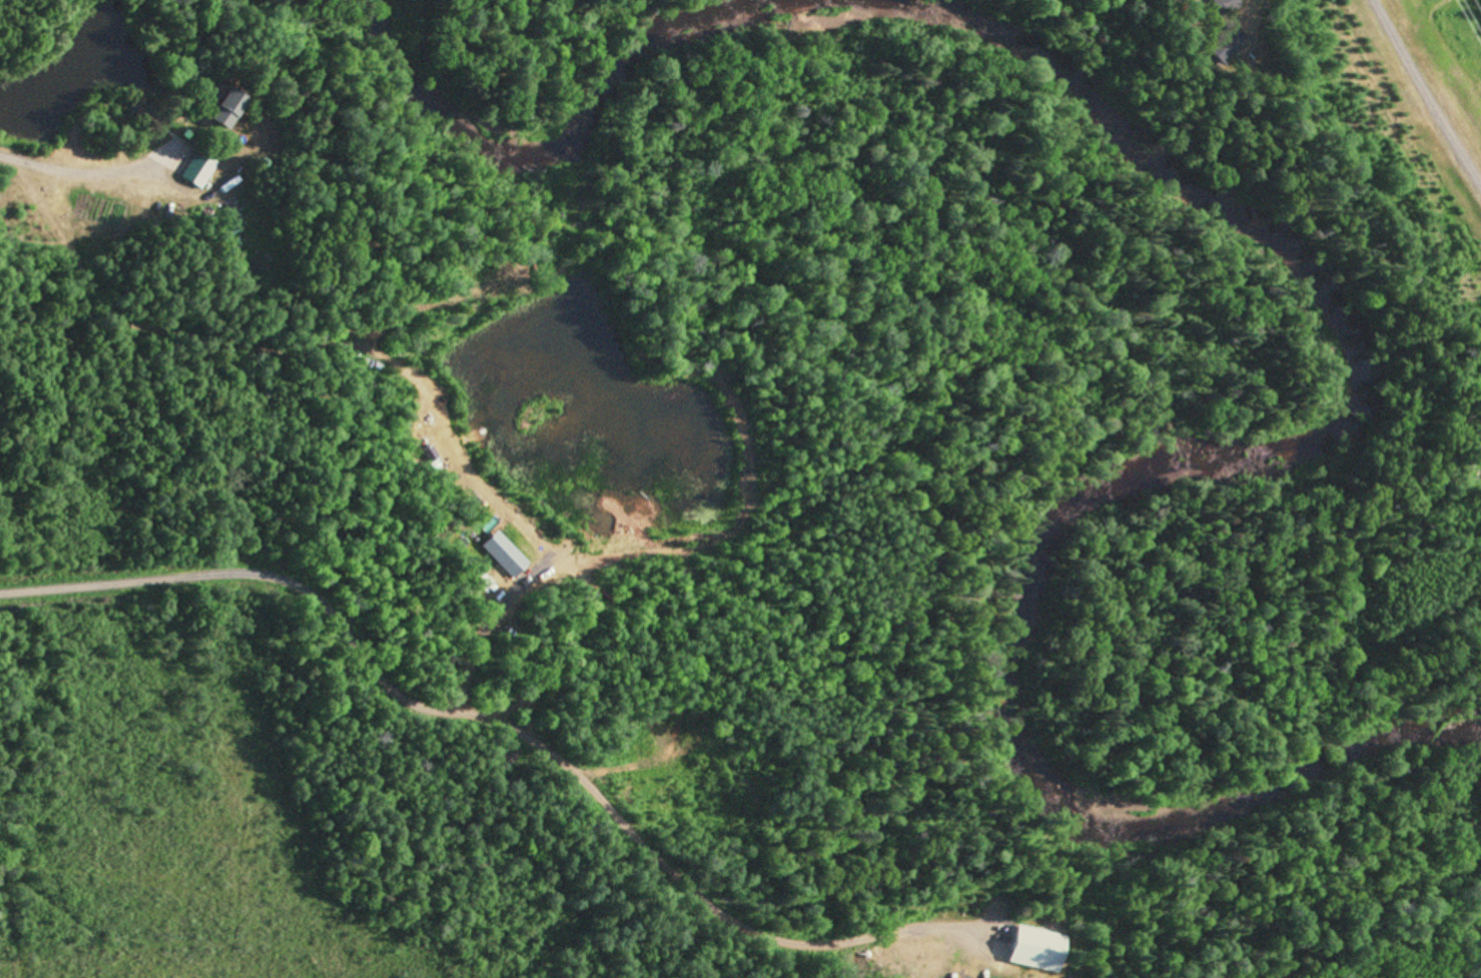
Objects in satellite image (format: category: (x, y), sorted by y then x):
building: (1225, 4)
building: (233, 110)
road: (48, 171)
building: (199, 171)
building: (1040, 951)

